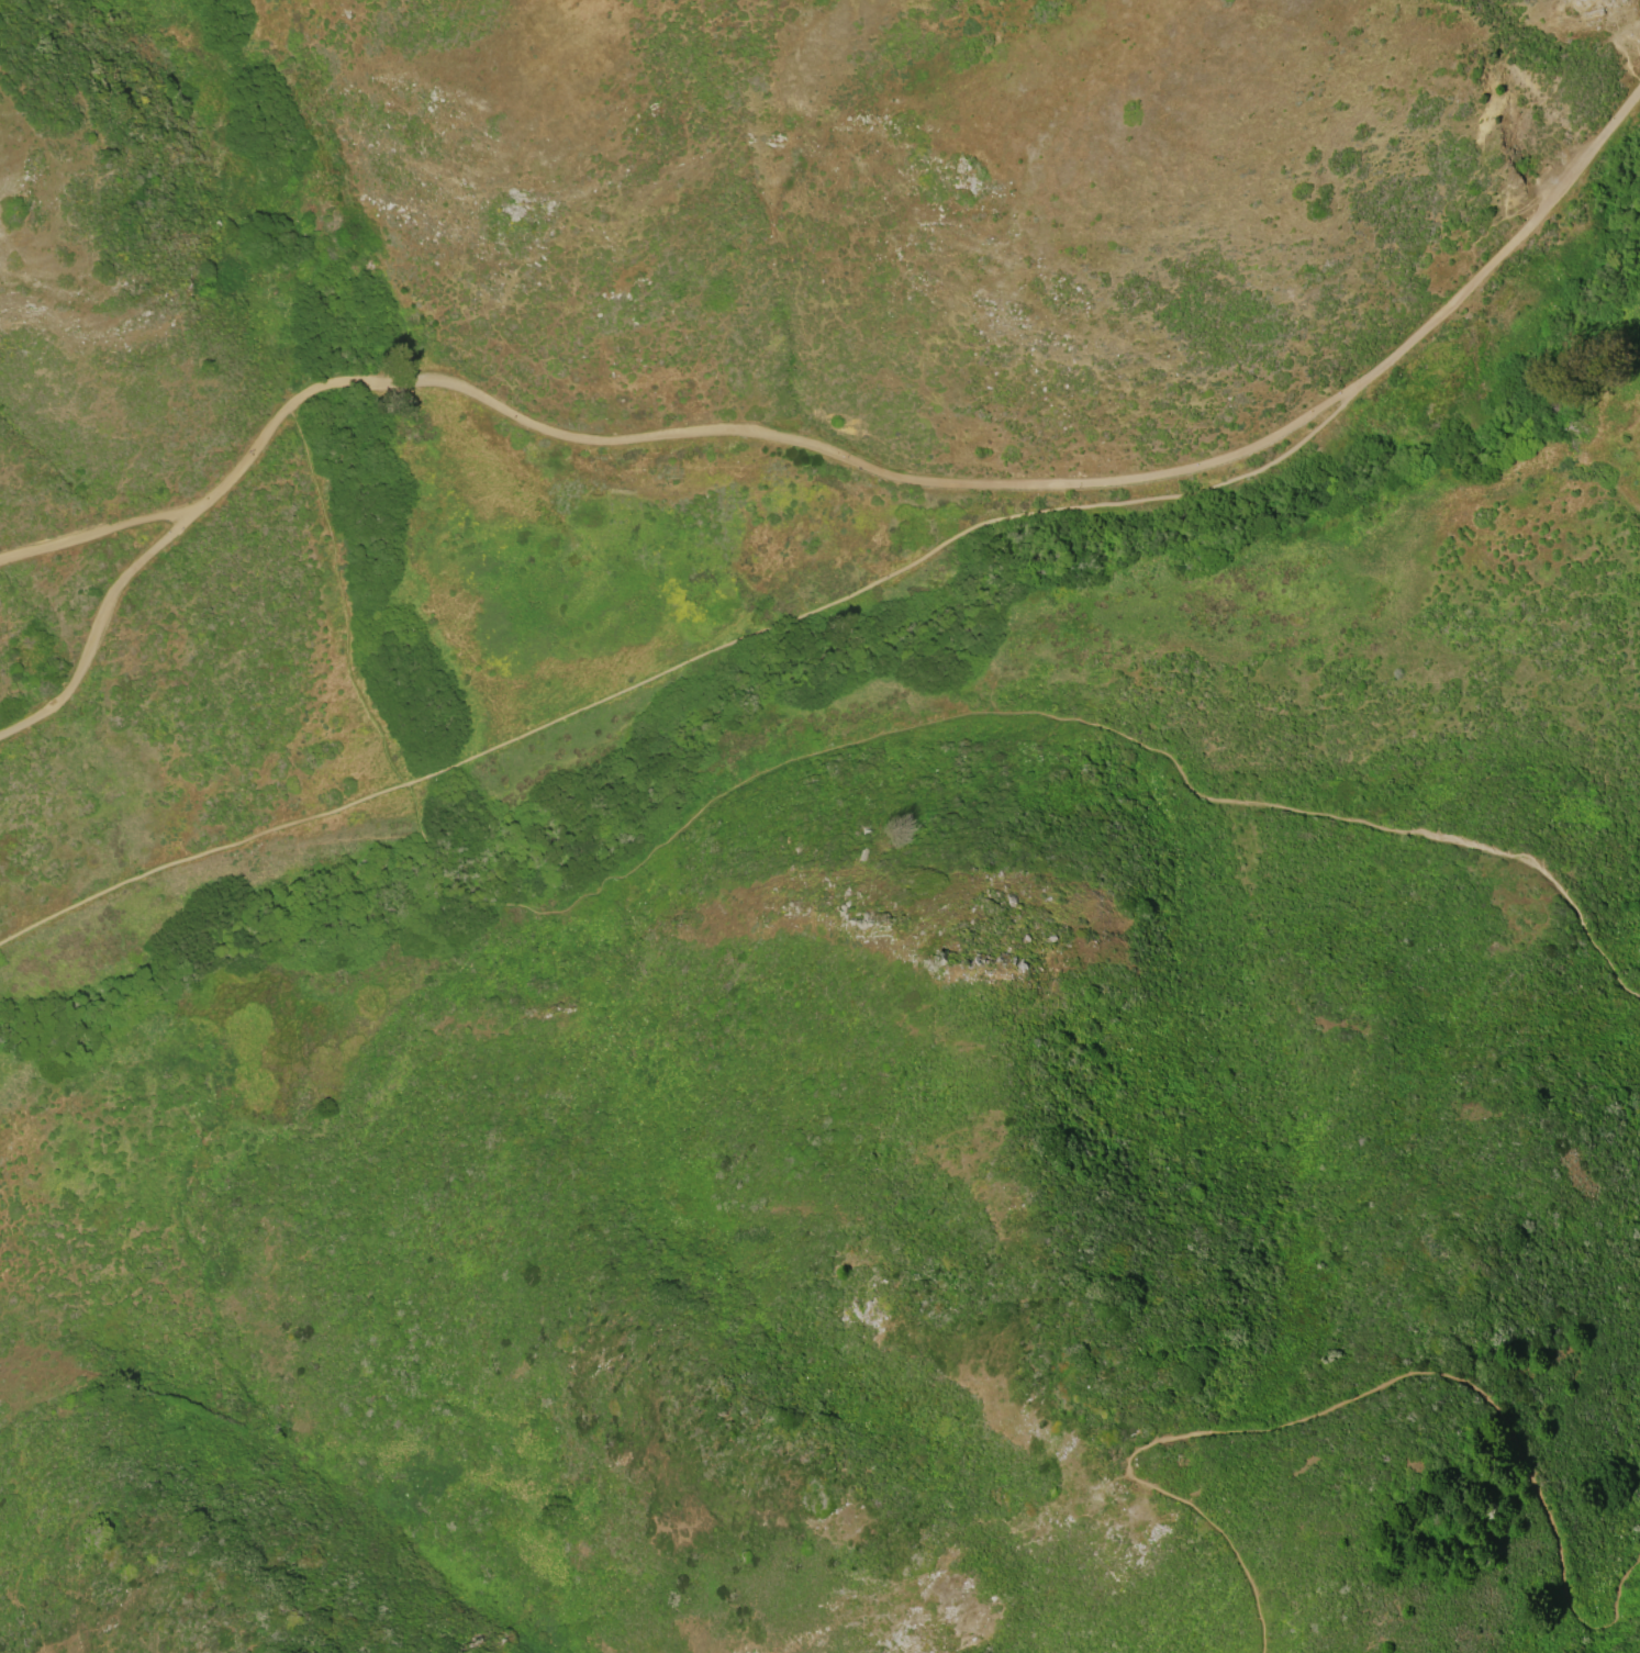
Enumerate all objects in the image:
road: (241, 462)
road: (1023, 483)
road: (94, 534)
road: (343, 597)
road: (97, 627)
road: (688, 670)
road: (1008, 714)
road: (1366, 1393)

